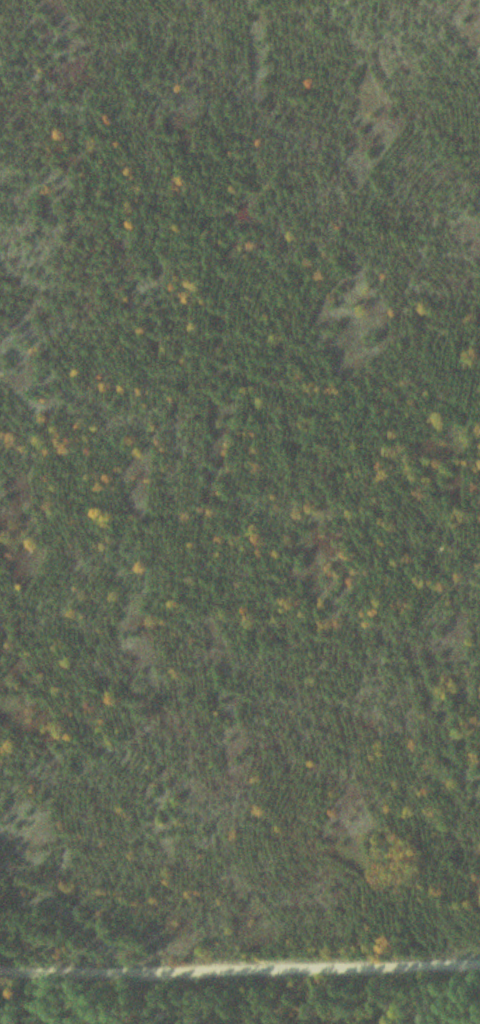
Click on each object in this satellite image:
road: (240, 967)

